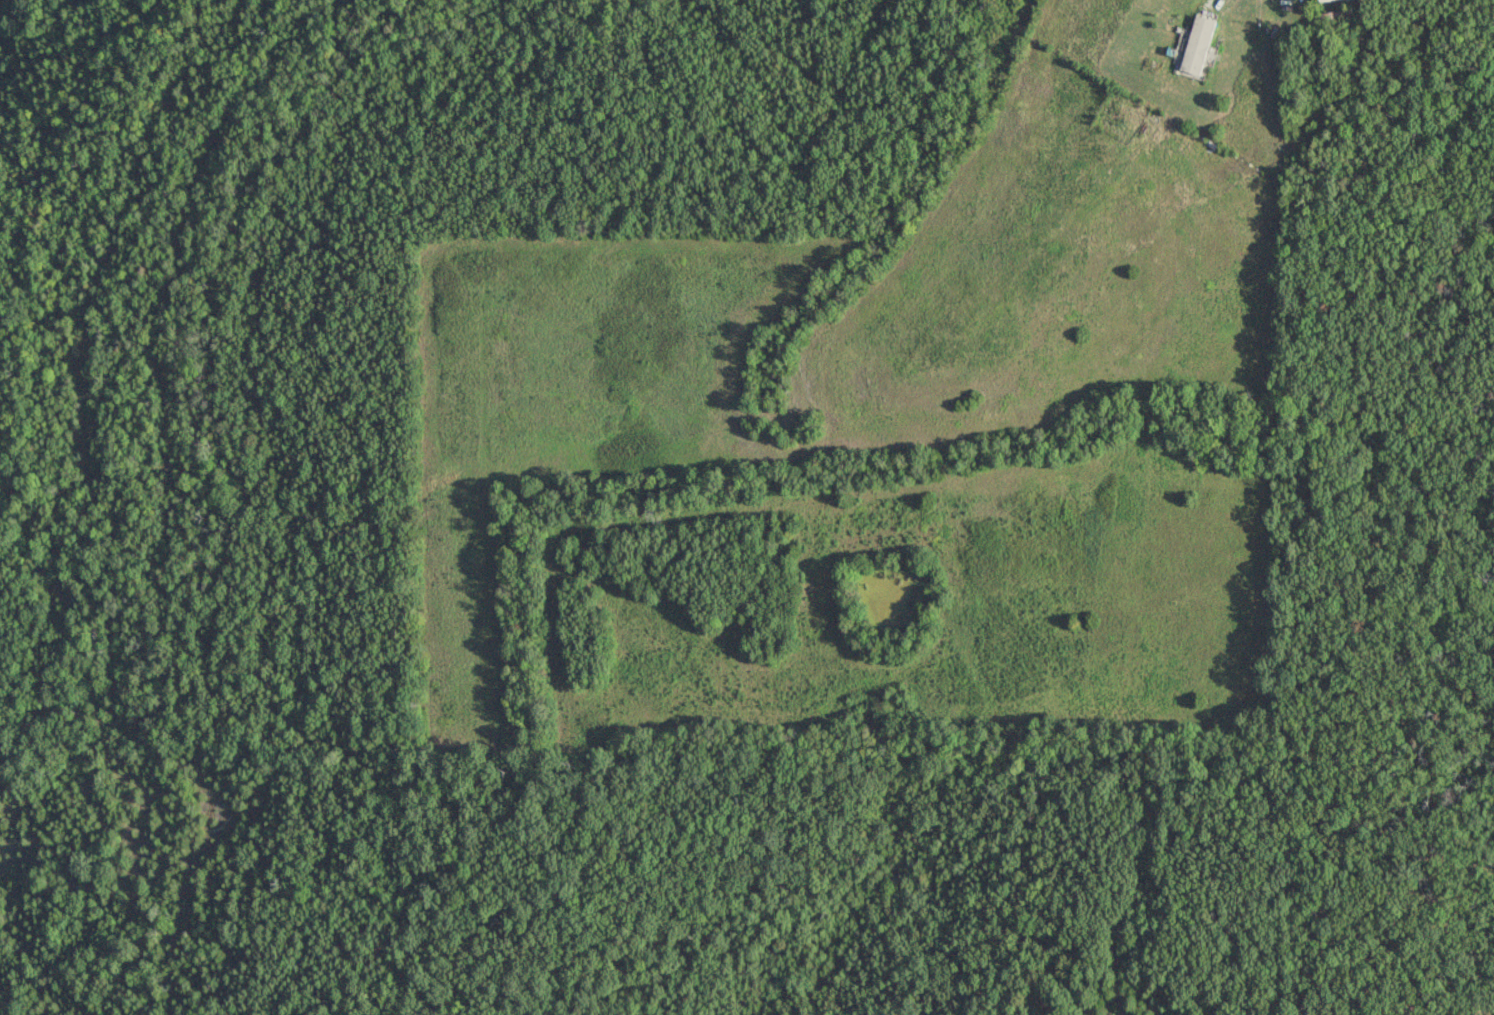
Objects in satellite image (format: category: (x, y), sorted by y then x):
building: (1331, 0)
building: (1198, 46)

